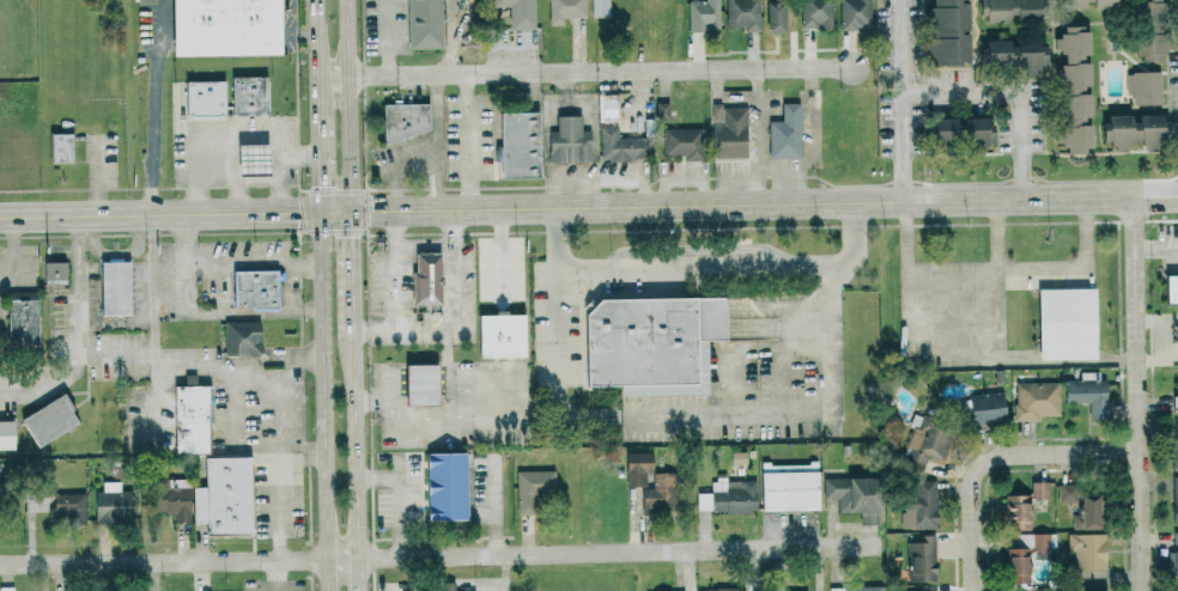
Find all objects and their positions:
building: (1091, 4)
building: (600, 8)
building: (565, 10)
building: (1008, 10)
building: (517, 12)
building: (742, 14)
building: (815, 14)
building: (854, 14)
building: (703, 16)
building: (775, 16)
building: (424, 24)
building: (223, 26)
building: (1148, 30)
building: (947, 31)
road: (389, 37)
building: (1015, 54)
road: (320, 65)
road: (587, 71)
building: (1143, 86)
building: (1074, 89)
road: (1016, 92)
building: (248, 95)
building: (202, 97)
road: (901, 100)
road: (350, 105)
road: (153, 106)
building: (662, 110)
building: (405, 120)
road: (758, 120)
building: (1134, 129)
building: (960, 130)
building: (728, 132)
building: (785, 133)
road: (226, 135)
building: (569, 140)
road: (469, 141)
building: (681, 142)
road: (438, 144)
building: (518, 144)
building: (623, 145)
building: (61, 147)
building: (250, 159)
road: (281, 166)
road: (322, 172)
road: (795, 172)
road: (728, 173)
road: (220, 179)
road: (259, 179)
road: (436, 184)
road: (761, 189)
road: (396, 191)
road: (764, 203)
road: (345, 213)
traffic signals: (352, 213)
traffic signals: (322, 214)
road: (169, 215)
road: (1156, 220)
road: (455, 229)
road: (555, 236)
road: (997, 237)
road: (425, 245)
road: (14, 248)
road: (183, 251)
road: (353, 252)
road: (852, 252)
road: (253, 260)
road: (705, 267)
building: (53, 272)
road: (395, 273)
road: (994, 274)
building: (425, 282)
road: (79, 284)
building: (114, 287)
building: (254, 288)
building: (1171, 288)
road: (455, 290)
road: (290, 304)
building: (1067, 322)
building: (20, 323)
road: (154, 327)
road: (405, 334)
building: (503, 335)
building: (241, 337)
building: (648, 337)
road: (117, 351)
road: (1028, 361)
road: (555, 366)
building: (419, 384)
road: (49, 386)
building: (1088, 392)
road: (1137, 394)
building: (1177, 398)
building: (1036, 400)
road: (326, 402)
road: (278, 404)
building: (984, 407)
road: (782, 410)
building: (48, 419)
building: (190, 419)
building: (6, 434)
road: (356, 441)
building: (923, 443)
building: (1174, 445)
road: (994, 459)
building: (637, 468)
building: (445, 486)
building: (789, 486)
building: (533, 489)
building: (1065, 492)
building: (660, 493)
building: (223, 495)
building: (728, 496)
building: (855, 496)
building: (170, 498)
building: (1174, 499)
building: (37, 501)
building: (113, 501)
building: (921, 505)
building: (1024, 505)
building: (68, 506)
building: (1086, 512)
road: (606, 550)
building: (1087, 550)
building: (1025, 555)
building: (1173, 556)
road: (164, 559)
building: (921, 559)
building: (448, 586)
building: (856, 587)
building: (721, 589)
building: (804, 590)
building: (1103, 590)
building: (1177, 590)

